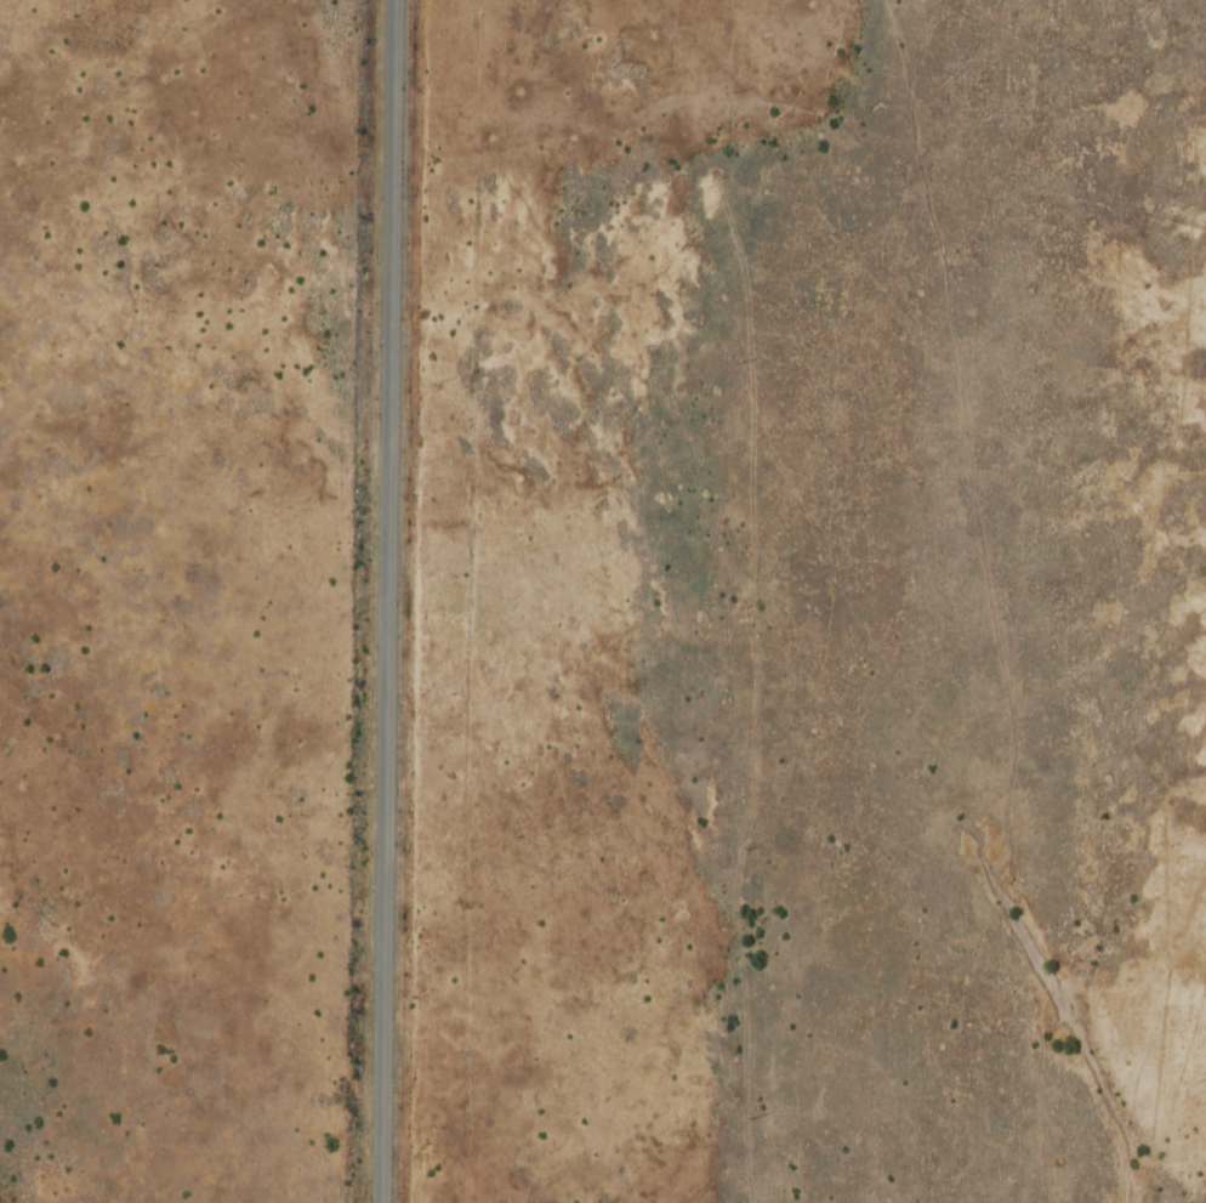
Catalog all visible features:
road: (24, 12)
road: (385, 601)

